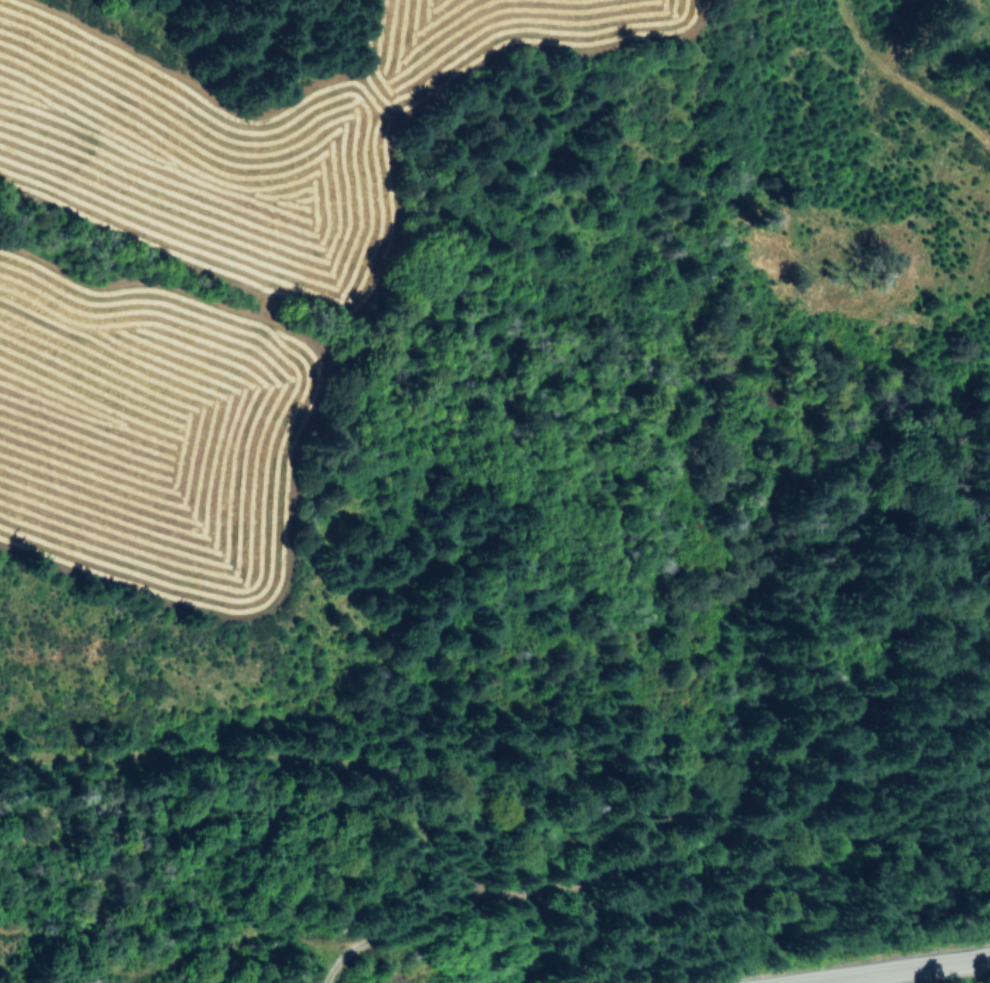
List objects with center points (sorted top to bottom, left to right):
road: (906, 82)
road: (907, 971)

